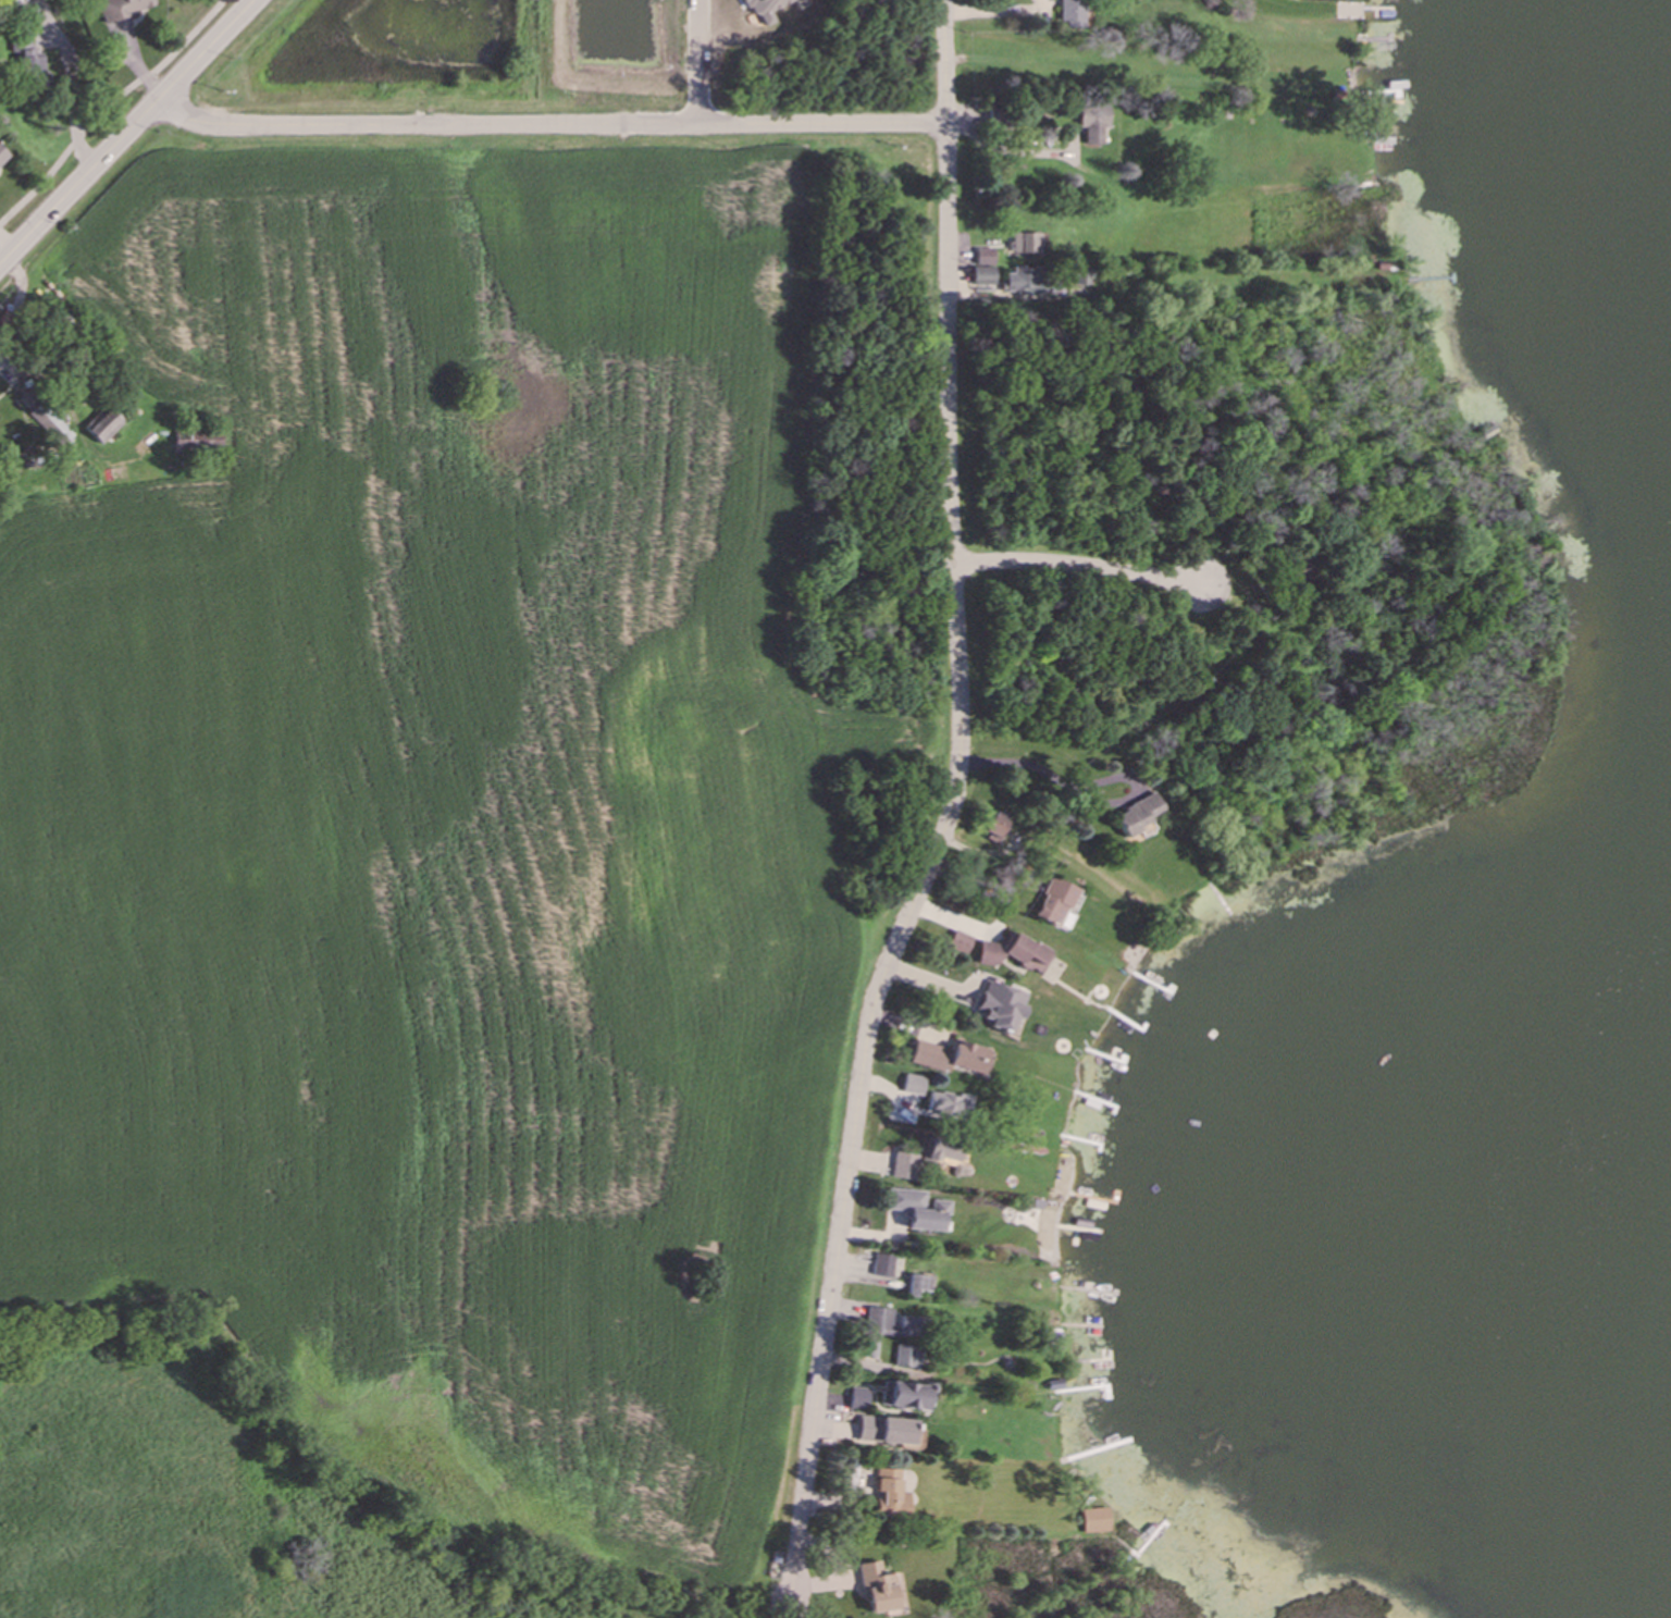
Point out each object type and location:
building: (122, 8)
building: (767, 8)
building: (1070, 13)
building: (27, 58)
road: (945, 62)
road: (705, 63)
road: (77, 103)
road: (107, 107)
building: (1092, 122)
road: (549, 126)
road: (127, 133)
building: (1, 155)
building: (1025, 243)
building: (983, 256)
building: (981, 276)
building: (1081, 276)
building: (1022, 281)
road: (21, 301)
road: (38, 376)
building: (45, 417)
building: (102, 424)
building: (197, 441)
road: (1076, 566)
road: (1085, 796)
building: (1135, 815)
building: (992, 828)
crop: (442, 830)
road: (929, 867)
building: (1053, 902)
building: (956, 942)
building: (1012, 952)
building: (999, 1005)
building: (949, 1057)
building: (912, 1084)
building: (942, 1103)
building: (939, 1149)
building: (903, 1165)
building: (918, 1210)
building: (882, 1264)
building: (917, 1284)
building: (889, 1323)
building: (906, 1356)
building: (902, 1395)
building: (858, 1397)
building: (884, 1430)
building: (890, 1493)
building: (1094, 1520)
building: (876, 1589)

